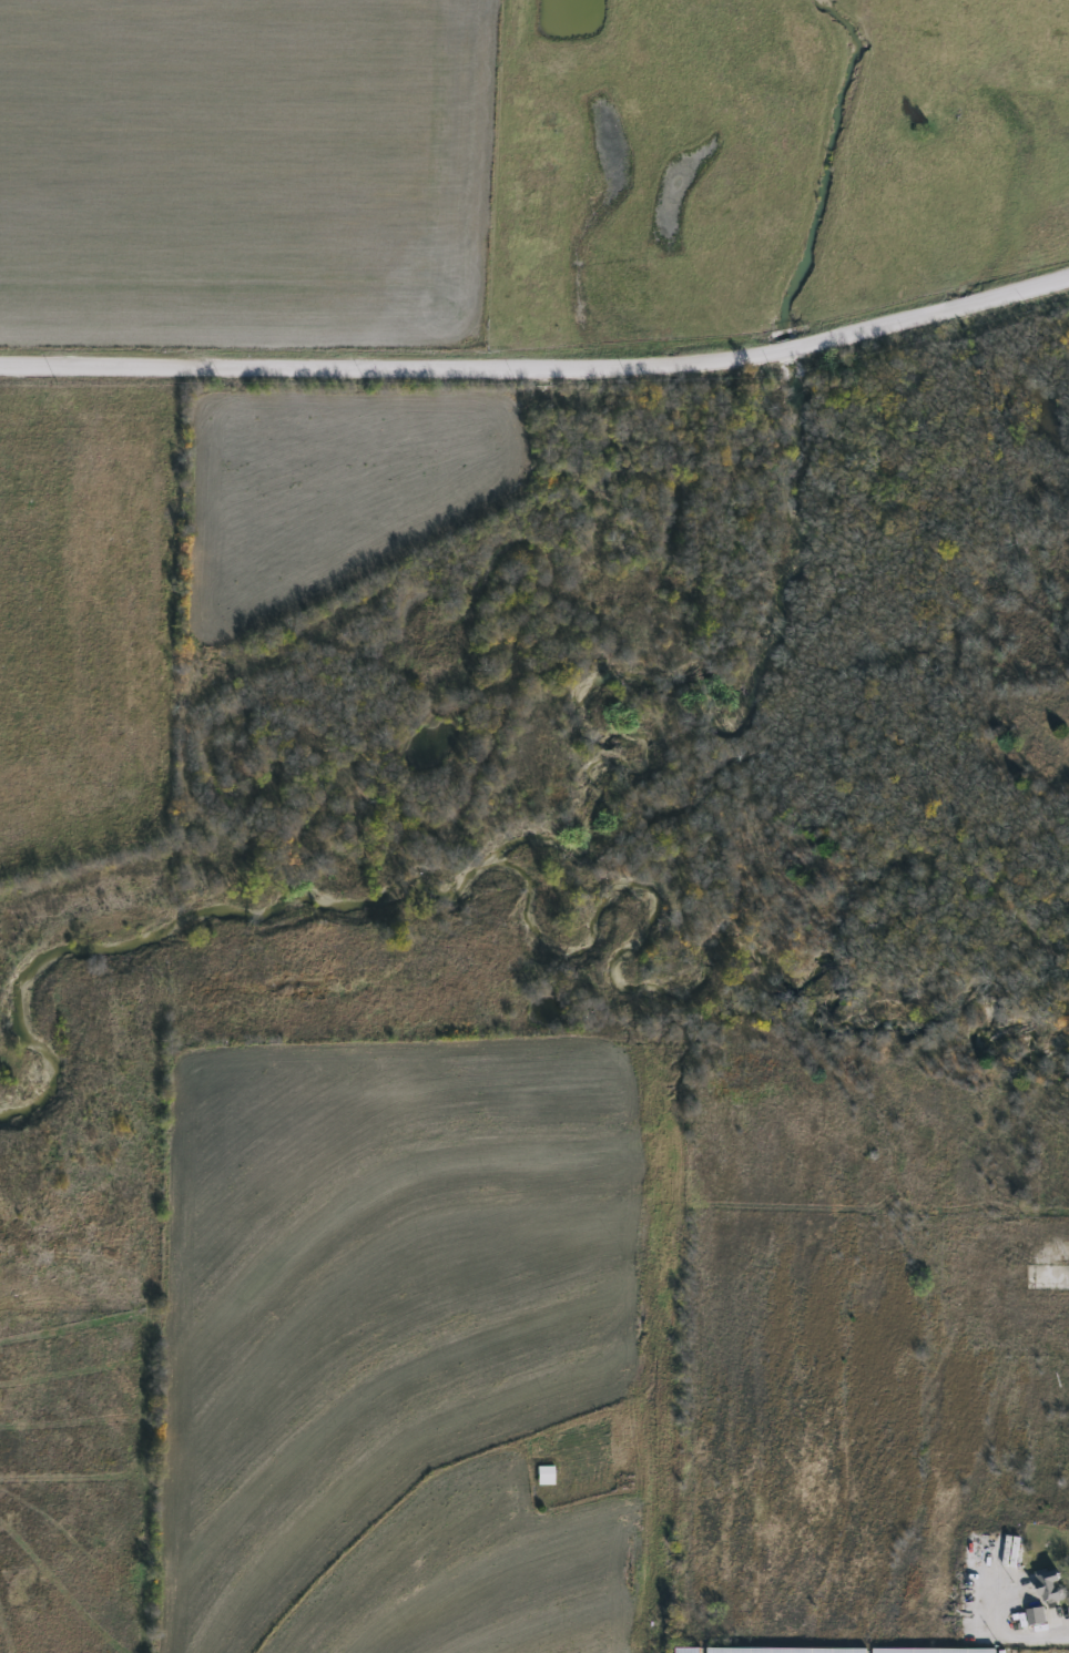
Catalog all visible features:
road: (540, 376)
building: (546, 1476)
building: (1051, 1584)
building: (1036, 1616)
road: (1024, 1632)
building: (685, 1650)
building: (935, 1651)

